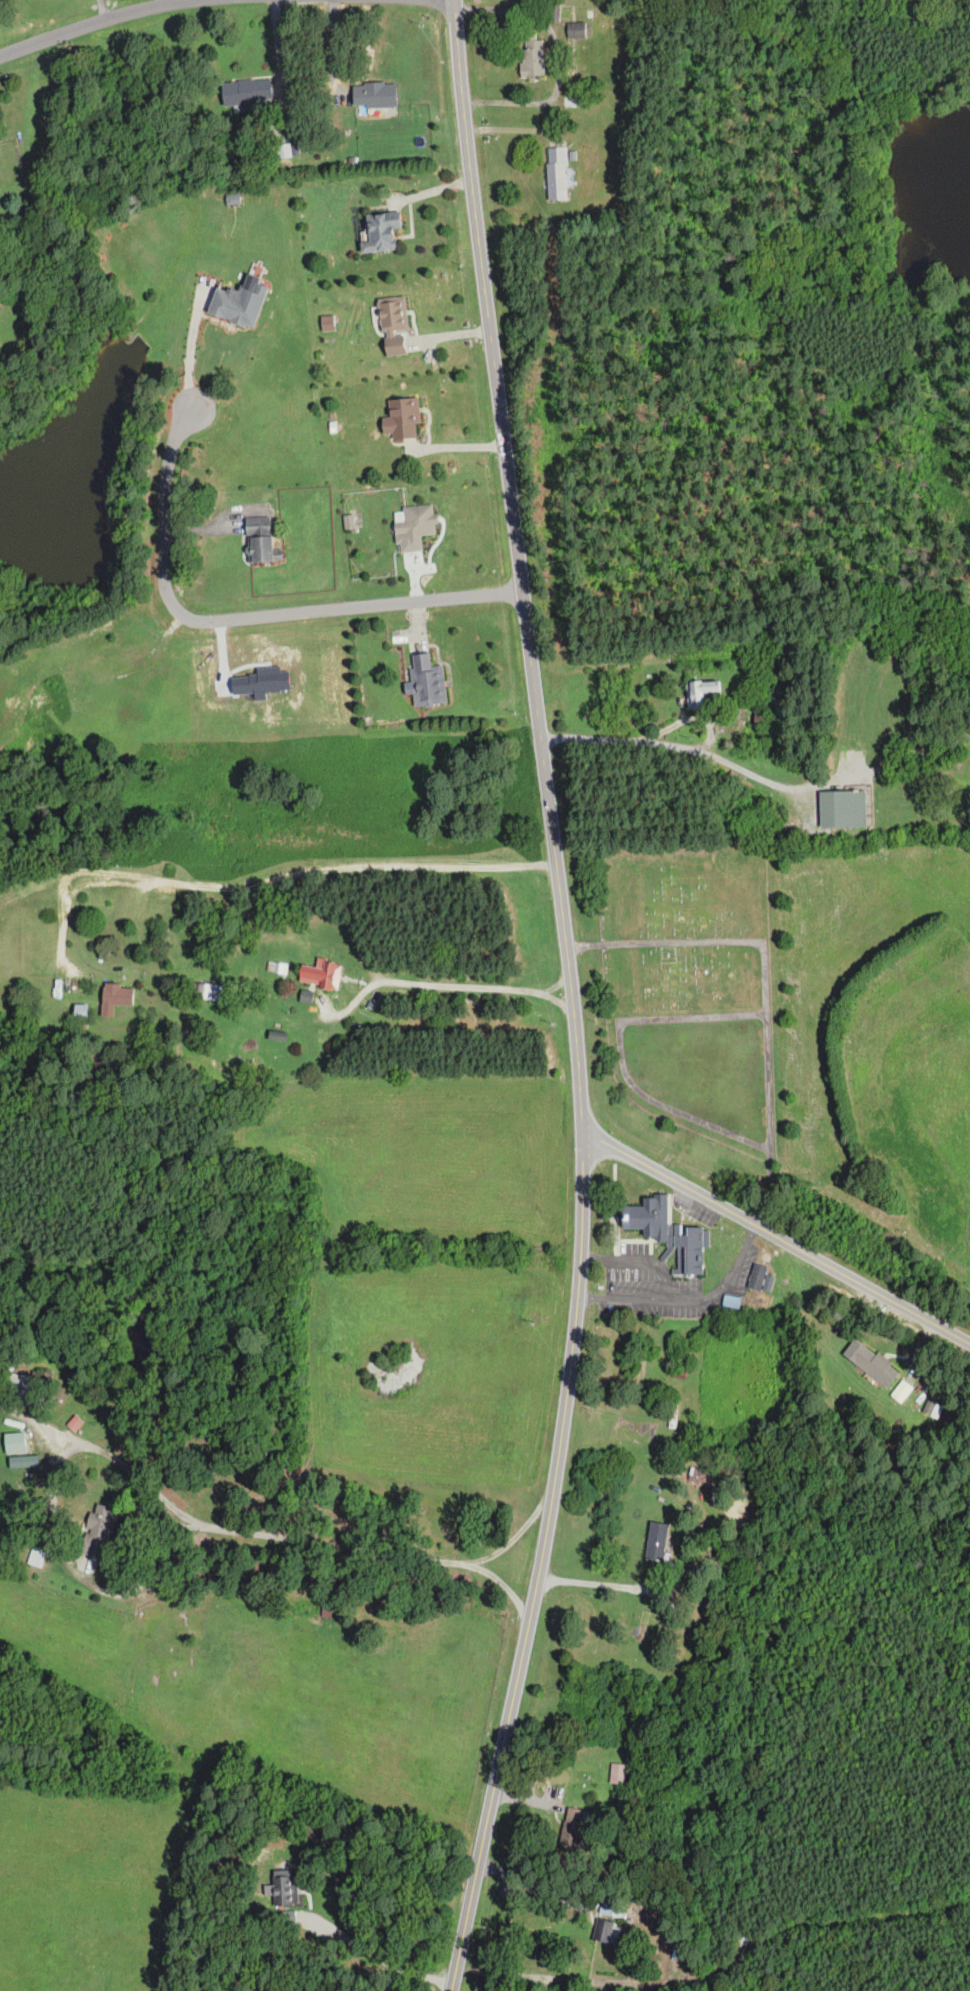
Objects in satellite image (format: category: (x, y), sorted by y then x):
road: (162, 2)
building: (553, 12)
road: (91, 22)
building: (576, 30)
building: (531, 54)
building: (246, 91)
building: (374, 94)
building: (575, 102)
building: (556, 172)
building: (381, 231)
building: (237, 304)
building: (393, 323)
road: (191, 348)
building: (404, 417)
building: (257, 525)
building: (413, 526)
building: (260, 549)
road: (243, 618)
building: (426, 681)
building: (699, 693)
building: (760, 717)
road: (680, 747)
road: (892, 765)
building: (833, 809)
building: (275, 925)
road: (285, 950)
building: (191, 962)
building: (278, 968)
building: (319, 974)
building: (205, 991)
park: (685, 991)
building: (115, 997)
road: (571, 998)
building: (19, 1003)
building: (80, 1012)
building: (667, 1233)
road: (776, 1237)
road: (623, 1297)
road: (677, 1298)
building: (871, 1363)
building: (26, 1387)
building: (931, 1409)
building: (14, 1443)
building: (701, 1474)
building: (100, 1530)
road: (517, 1532)
road: (257, 1533)
building: (655, 1541)
road: (589, 1575)
building: (617, 1773)
building: (573, 1826)
road: (530, 1884)
building: (285, 1889)
building: (612, 1910)
building: (602, 1930)
road: (382, 1959)

